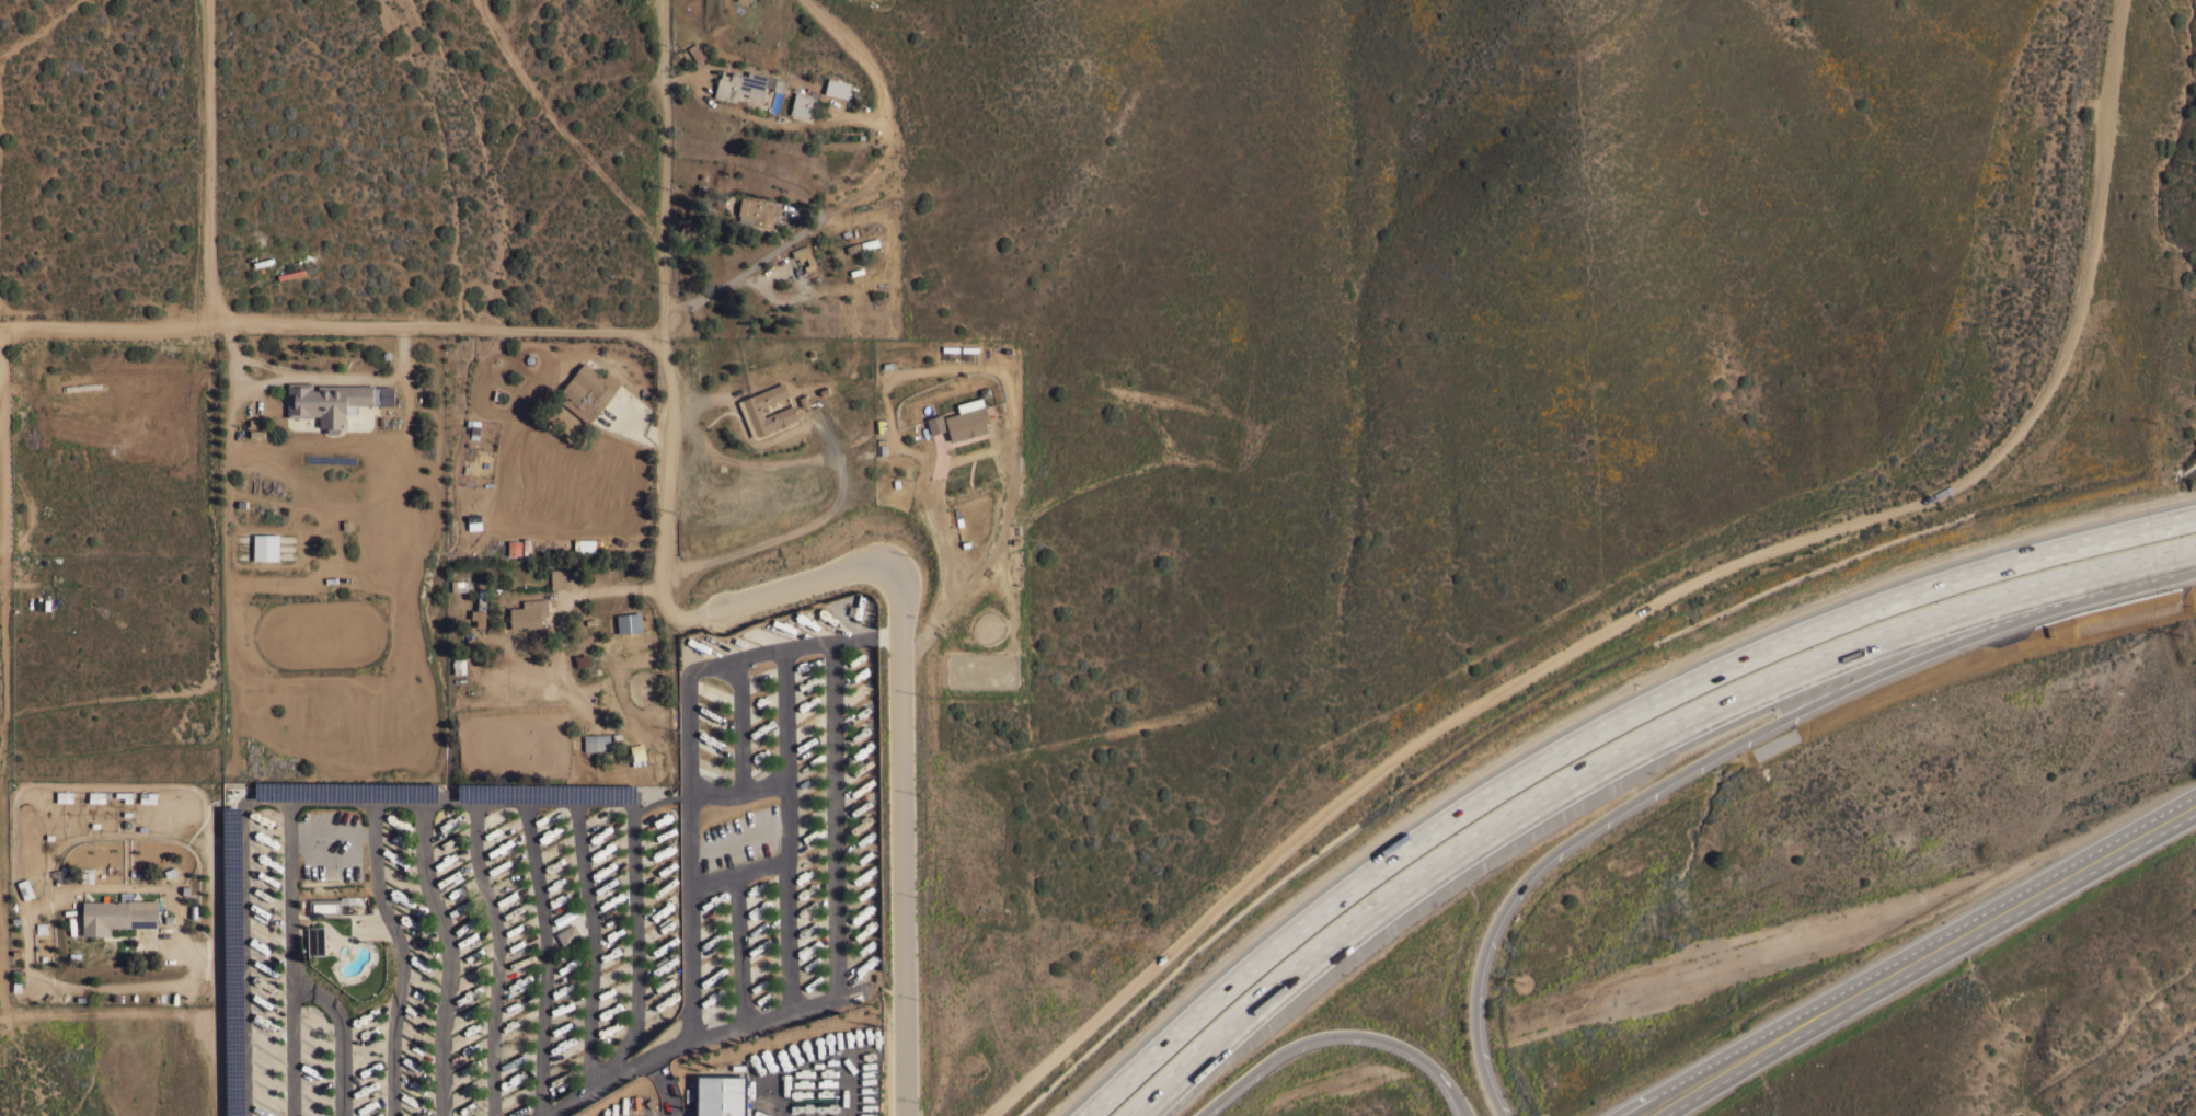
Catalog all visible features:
building: (697, 51)
building: (739, 84)
building: (779, 84)
building: (836, 87)
building: (801, 104)
road: (662, 117)
road: (559, 125)
road: (205, 159)
building: (759, 210)
building: (869, 243)
building: (803, 256)
road: (745, 268)
road: (662, 281)
road: (331, 322)
building: (585, 393)
building: (333, 401)
building: (785, 412)
building: (962, 422)
building: (474, 429)
road: (0, 448)
road: (660, 497)
building: (265, 547)
building: (585, 547)
building: (514, 548)
road: (0, 576)
building: (563, 577)
building: (460, 585)
road: (633, 587)
road: (784, 588)
road: (1664, 607)
building: (480, 608)
building: (528, 613)
building: (629, 622)
road: (871, 637)
road: (812, 645)
building: (582, 659)
building: (457, 665)
road: (1594, 733)
building: (596, 741)
building: (637, 753)
road: (1625, 757)
road: (1693, 769)
road: (790, 778)
road: (739, 786)
road: (2, 791)
road: (424, 798)
road: (902, 816)
road: (688, 855)
road: (739, 867)
building: (60, 876)
building: (330, 905)
building: (117, 914)
building: (567, 934)
building: (314, 940)
road: (1906, 953)
road: (405, 955)
road: (456, 955)
road: (296, 956)
road: (502, 956)
road: (836, 976)
road: (161, 1013)
road: (346, 1035)
road: (1338, 1035)
building: (721, 1095)

